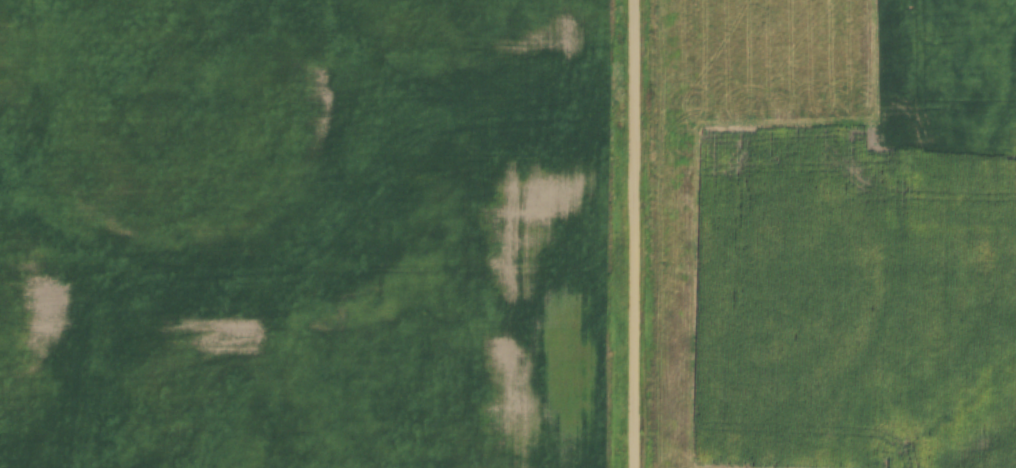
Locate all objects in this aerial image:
road: (633, 234)

